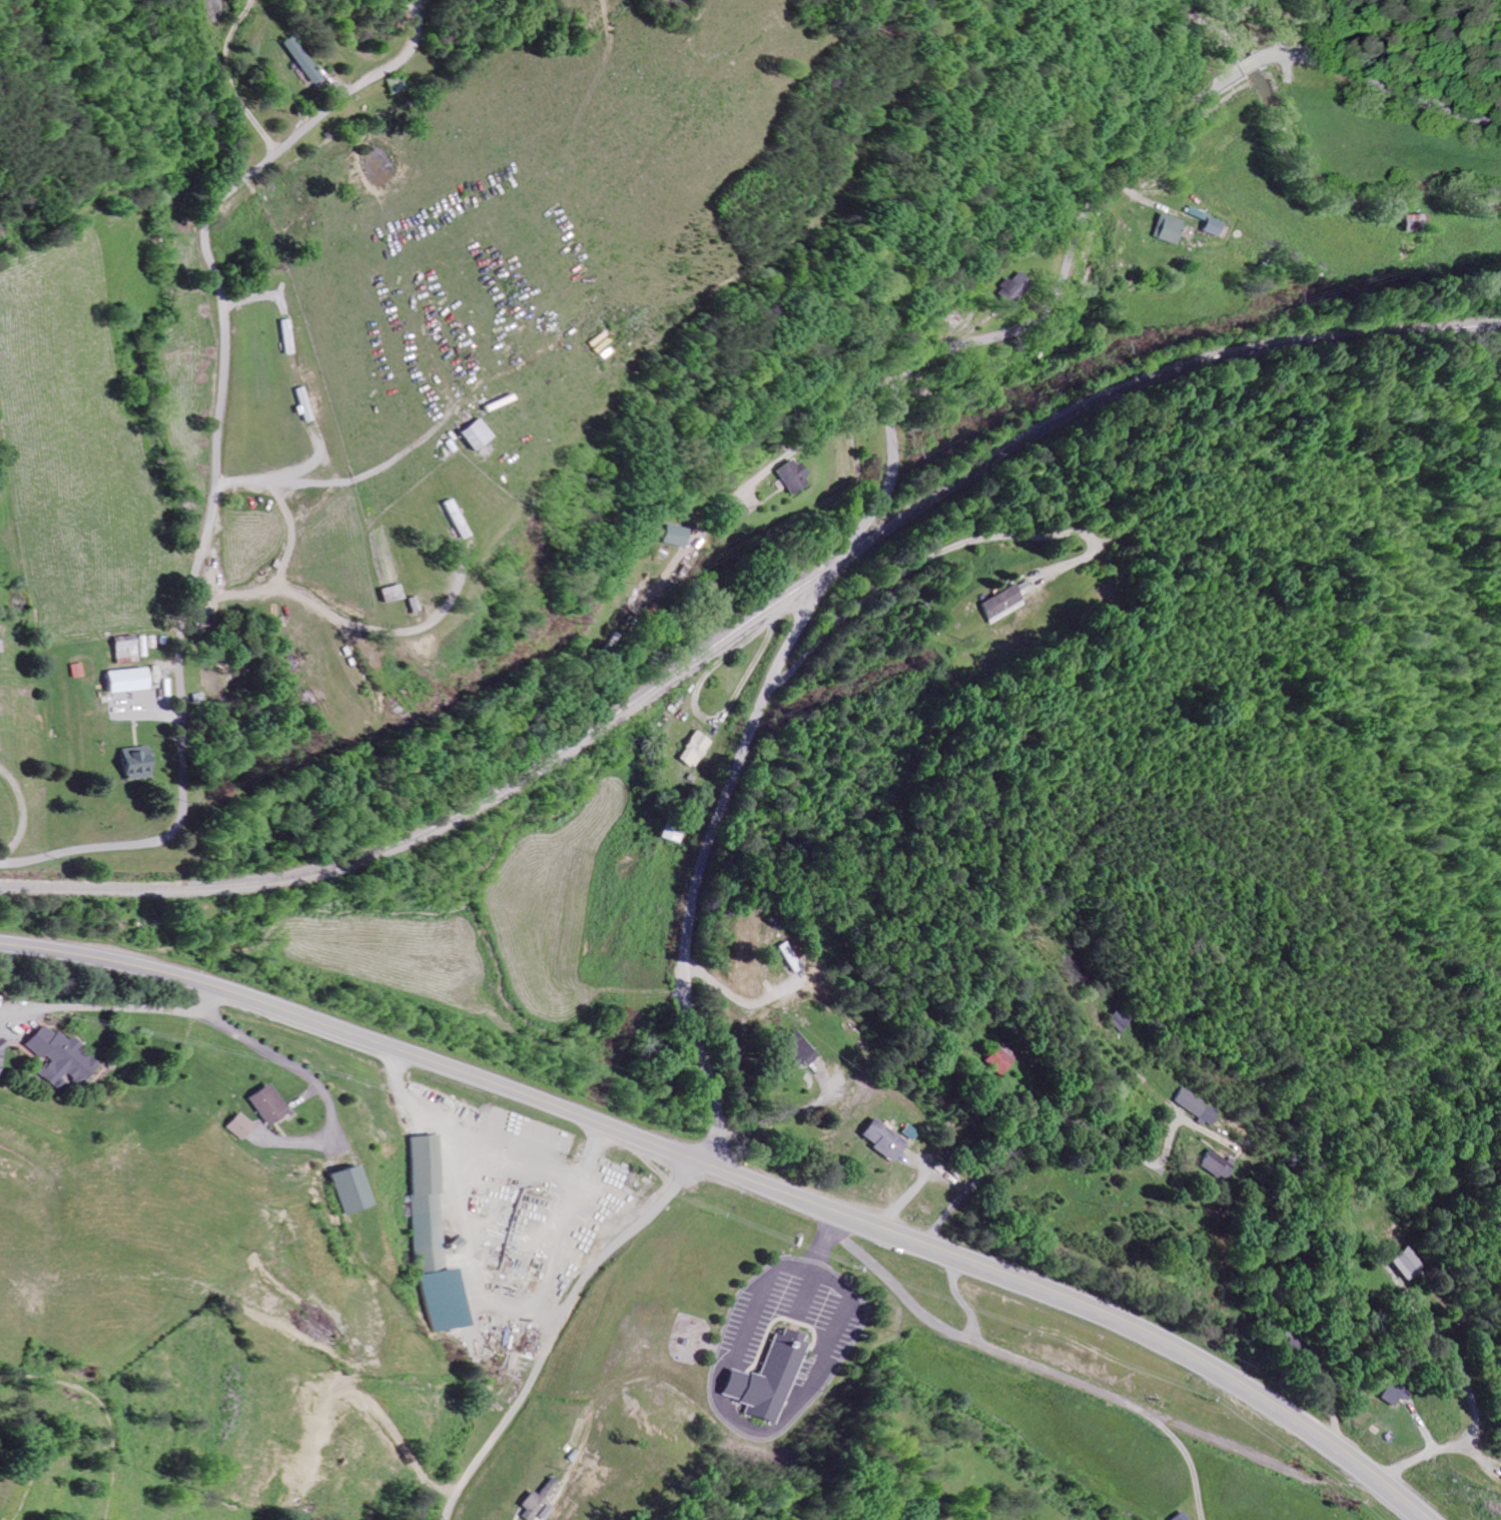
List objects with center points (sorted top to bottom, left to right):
building: (296, 60)
building: (1413, 222)
building: (1167, 229)
building: (1004, 288)
building: (297, 404)
road: (889, 418)
building: (471, 433)
road: (796, 445)
road: (217, 453)
building: (785, 475)
road: (344, 480)
building: (666, 535)
road: (949, 546)
building: (997, 603)
road: (329, 616)
railway: (752, 621)
building: (118, 651)
building: (120, 680)
building: (695, 749)
building: (127, 763)
building: (672, 830)
building: (783, 957)
road: (735, 1001)
road: (118, 1008)
building: (1107, 1020)
building: (790, 1050)
building: (62, 1057)
building: (987, 1057)
building: (2, 1058)
road: (317, 1084)
building: (269, 1104)
building: (1193, 1106)
road: (780, 1115)
road: (1040, 1122)
building: (244, 1126)
building: (870, 1139)
road: (488, 1149)
building: (1210, 1165)
road: (740, 1175)
building: (347, 1189)
road: (821, 1239)
building: (430, 1240)
building: (1405, 1263)
parking lot: (798, 1314)
road: (556, 1330)
road: (1030, 1365)
building: (770, 1379)
building: (1392, 1393)
road: (1475, 1404)
road: (756, 1427)
building: (532, 1500)
building: (1179, 1516)

